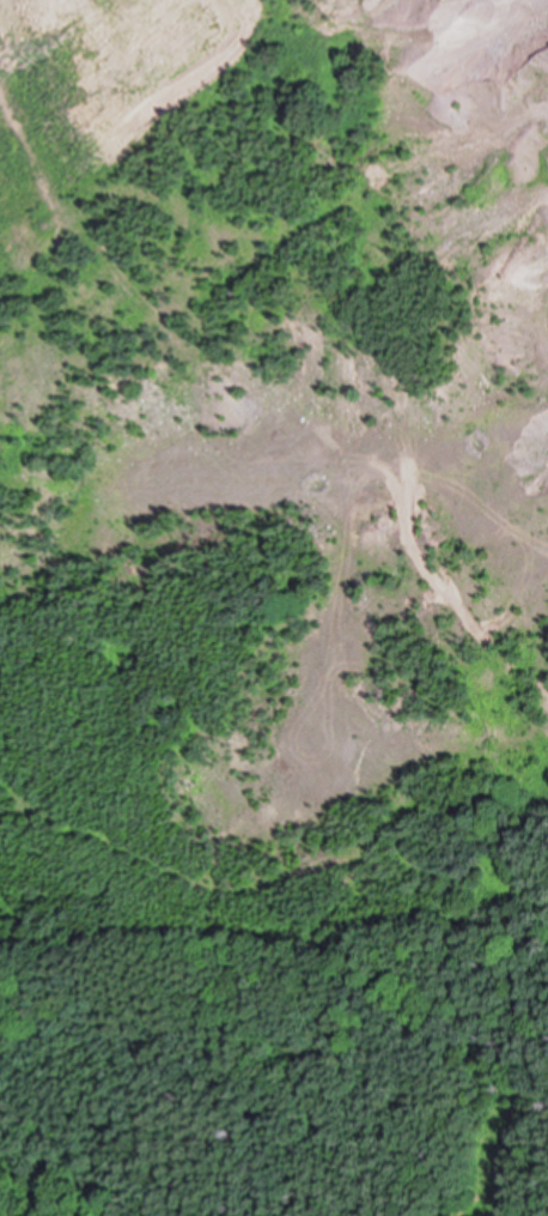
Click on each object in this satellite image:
quarry: (273, 471)
quarry: (321, 486)

